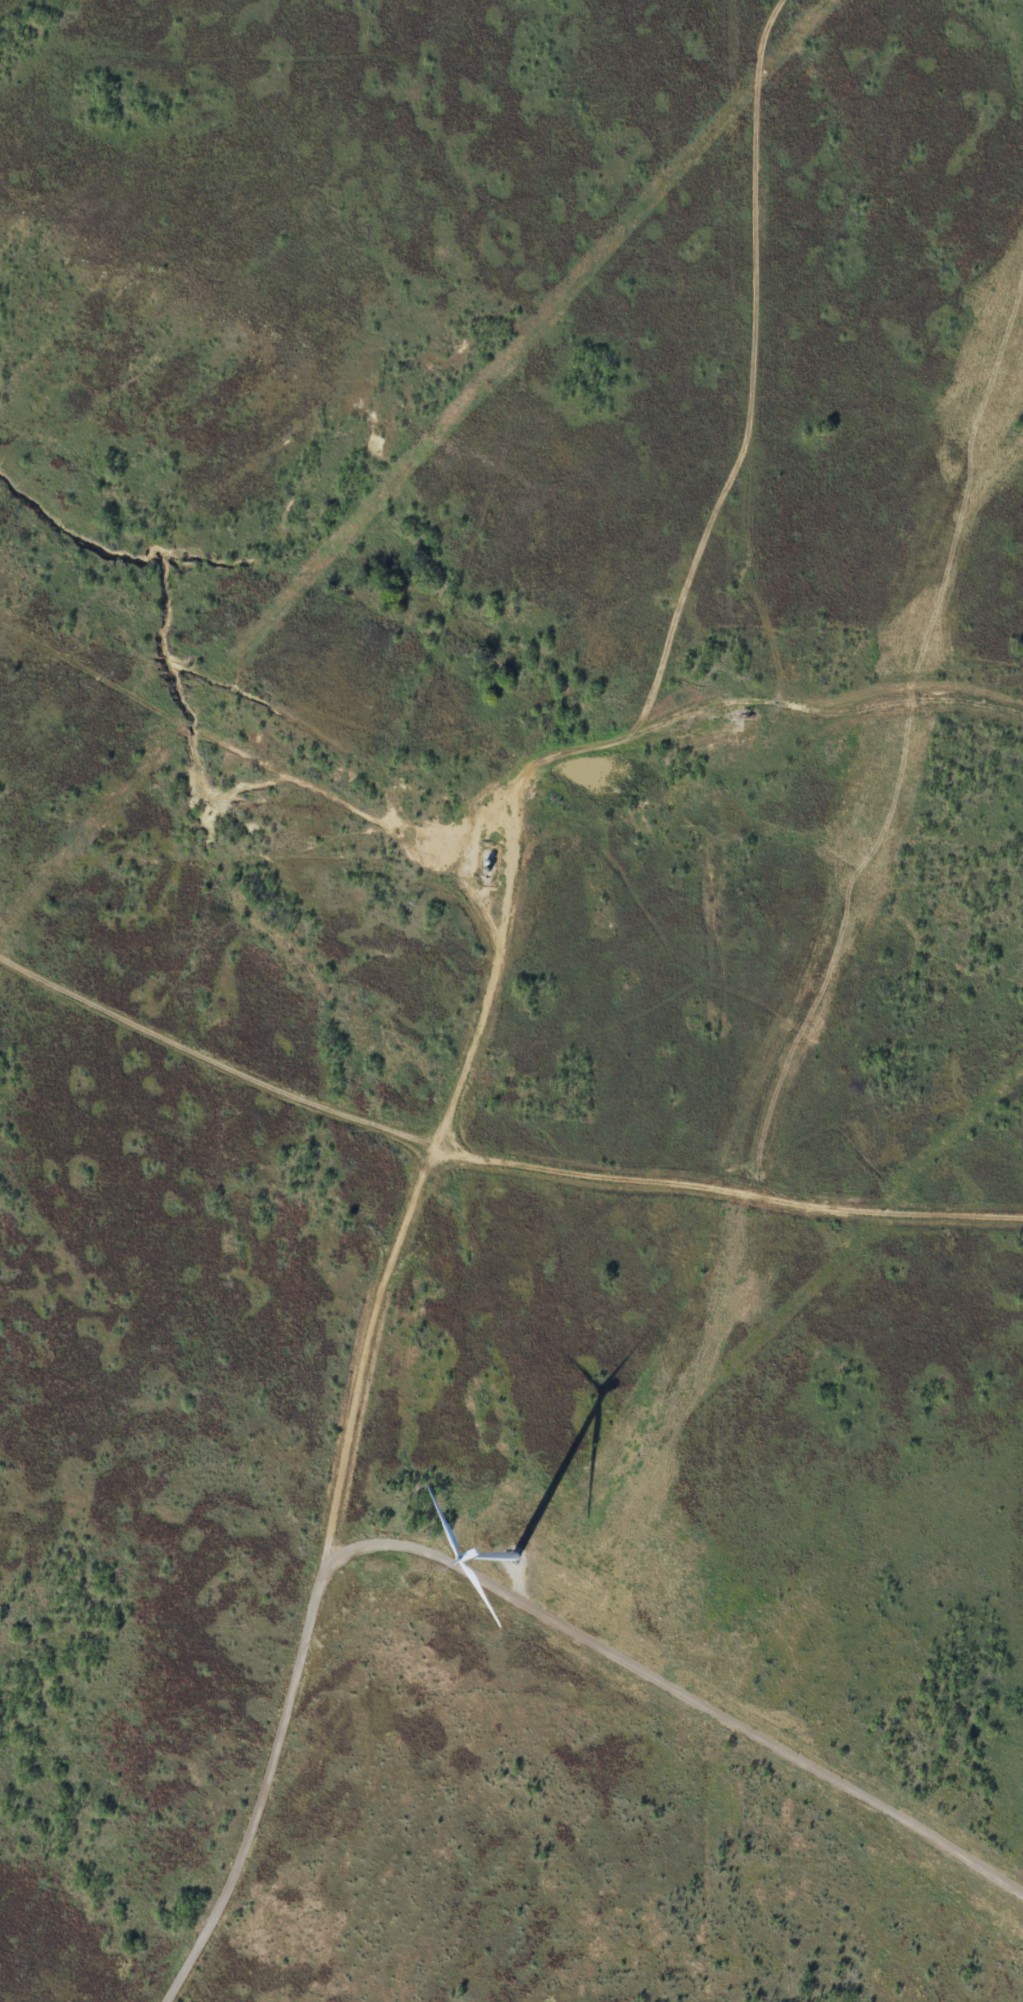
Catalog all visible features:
road: (770, 488)
road: (257, 722)
road: (495, 1159)
road: (363, 1410)
wind turbine: (527, 1562)
road: (672, 1677)

